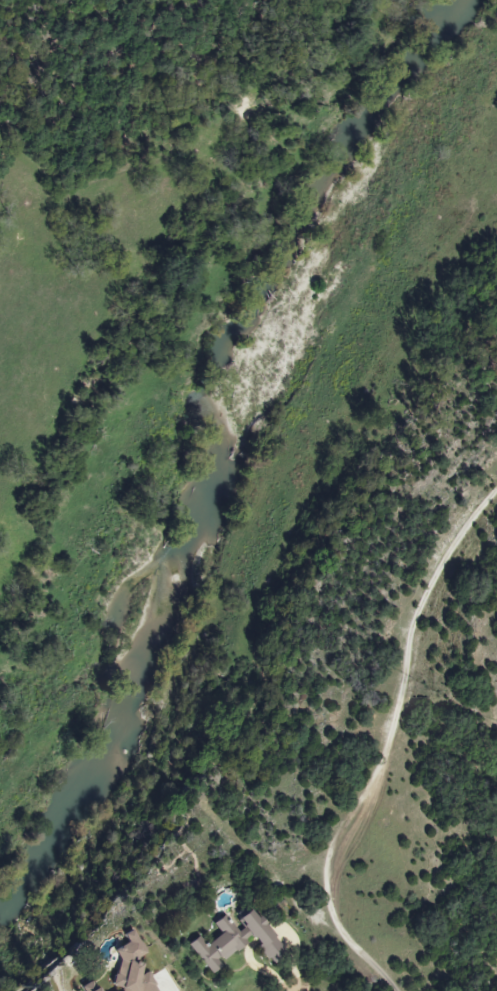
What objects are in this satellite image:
river: (201, 439)
road: (386, 745)
building: (237, 939)
building: (133, 966)
road: (292, 986)
building: (91, 987)

